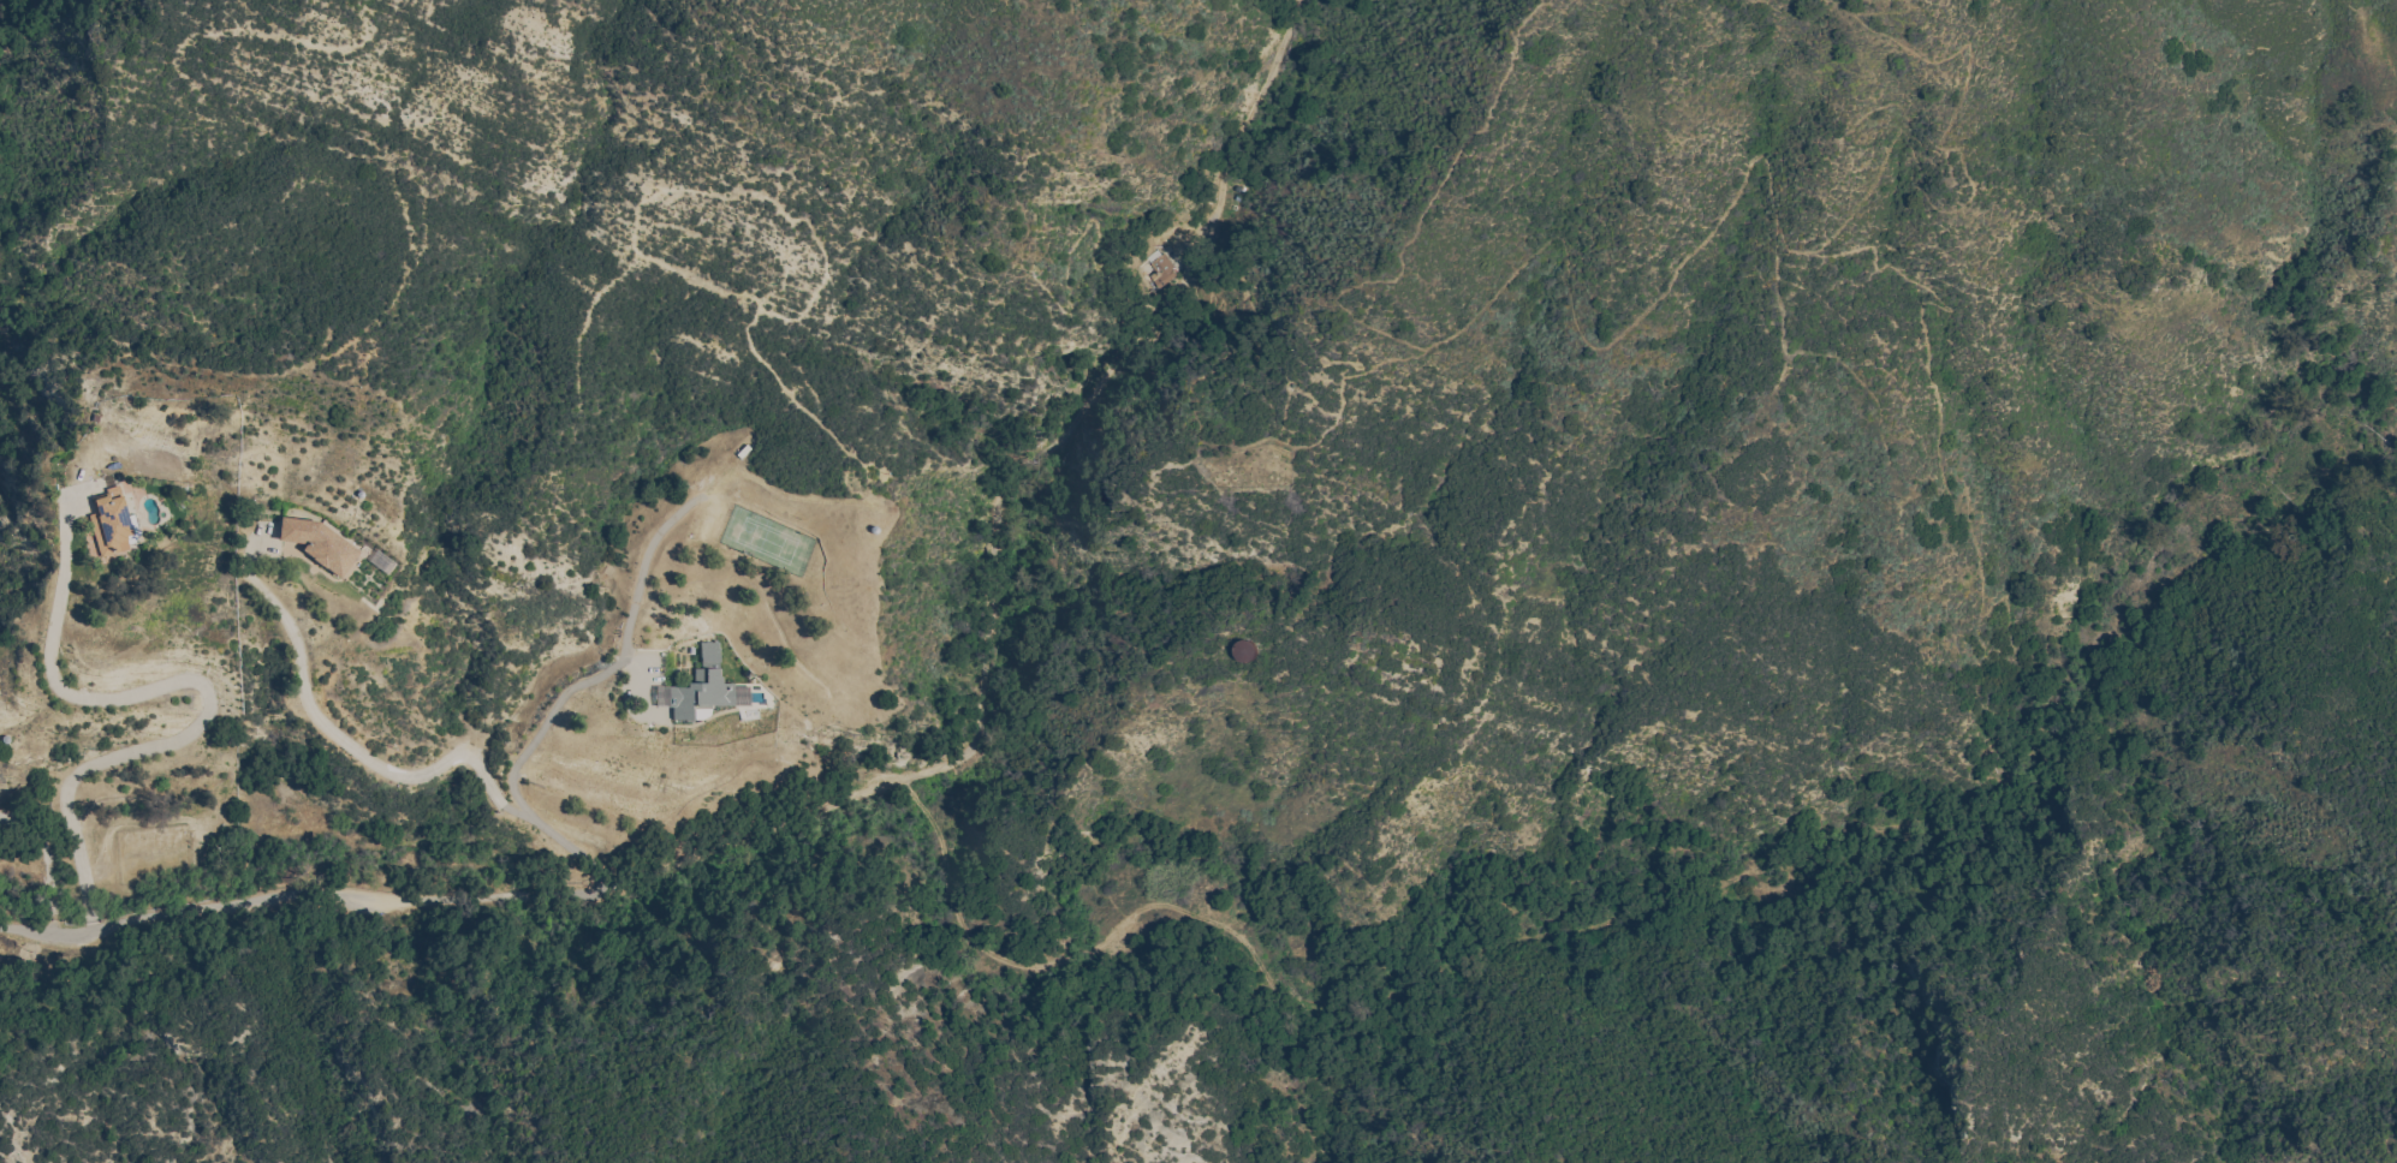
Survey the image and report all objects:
building: (1158, 272)
building: (112, 524)
park: (745, 532)
park: (767, 541)
building: (319, 544)
road: (1003, 544)
building: (380, 562)
road: (643, 565)
building: (1247, 651)
road: (196, 686)
building: (702, 687)
building: (701, 712)
road: (548, 717)
road: (385, 770)
road: (295, 899)

